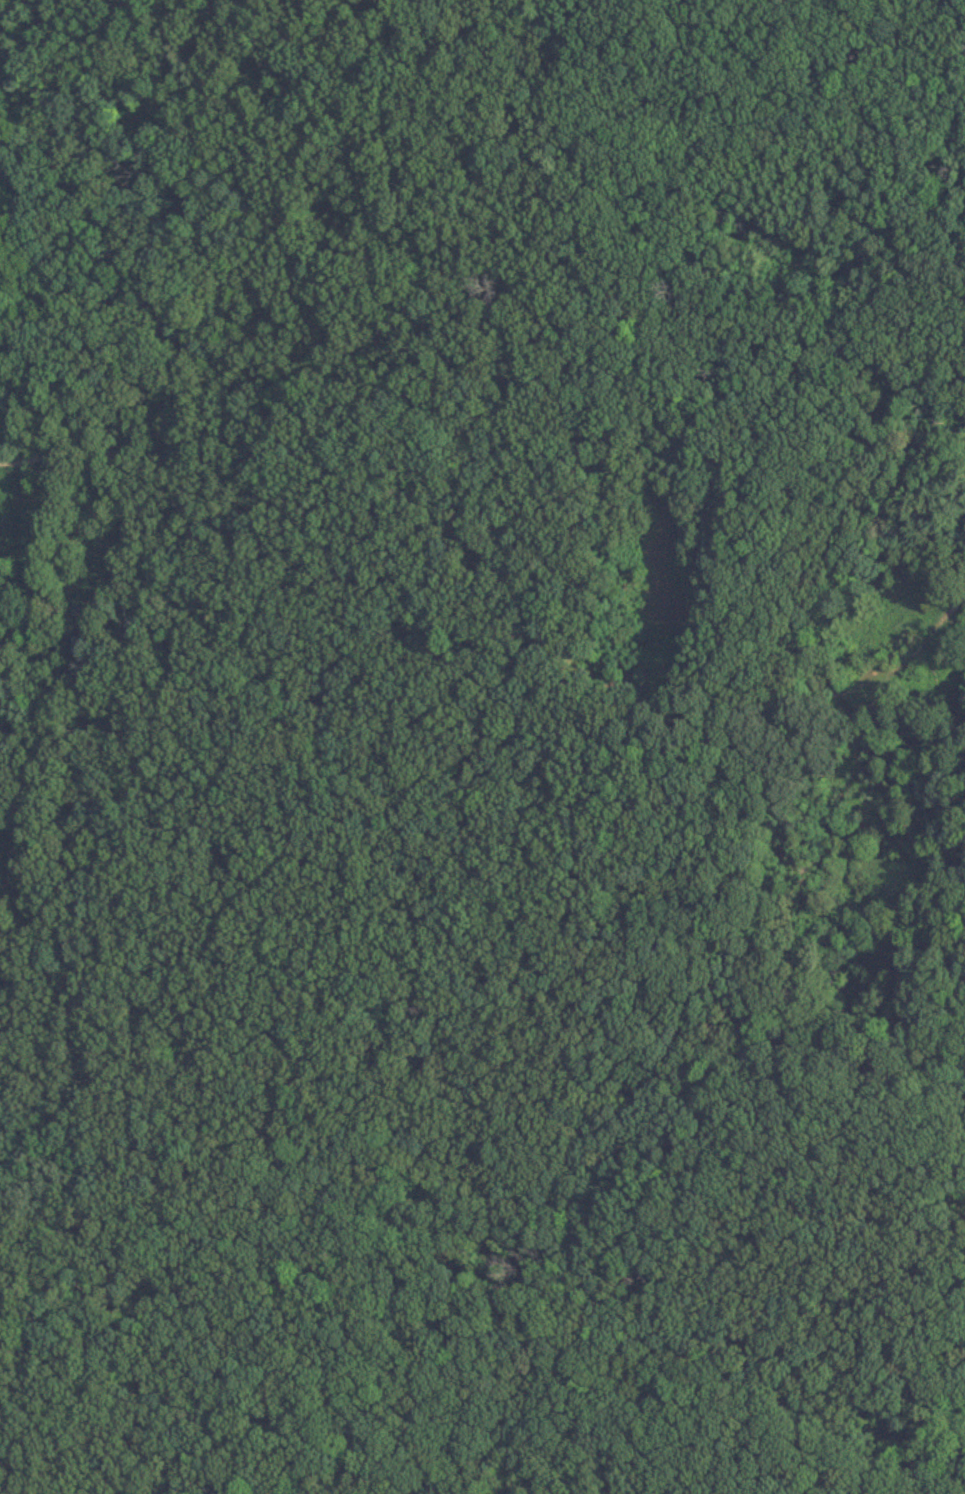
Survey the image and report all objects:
road: (563, 310)
road: (921, 640)
road: (621, 706)
park: (482, 747)
road: (902, 804)
road: (79, 813)
road: (963, 814)
road: (963, 821)
road: (963, 829)
road: (323, 867)
road: (942, 949)
road: (369, 1134)
road: (133, 1253)
road: (613, 1377)
road: (168, 1440)
road: (231, 1442)

